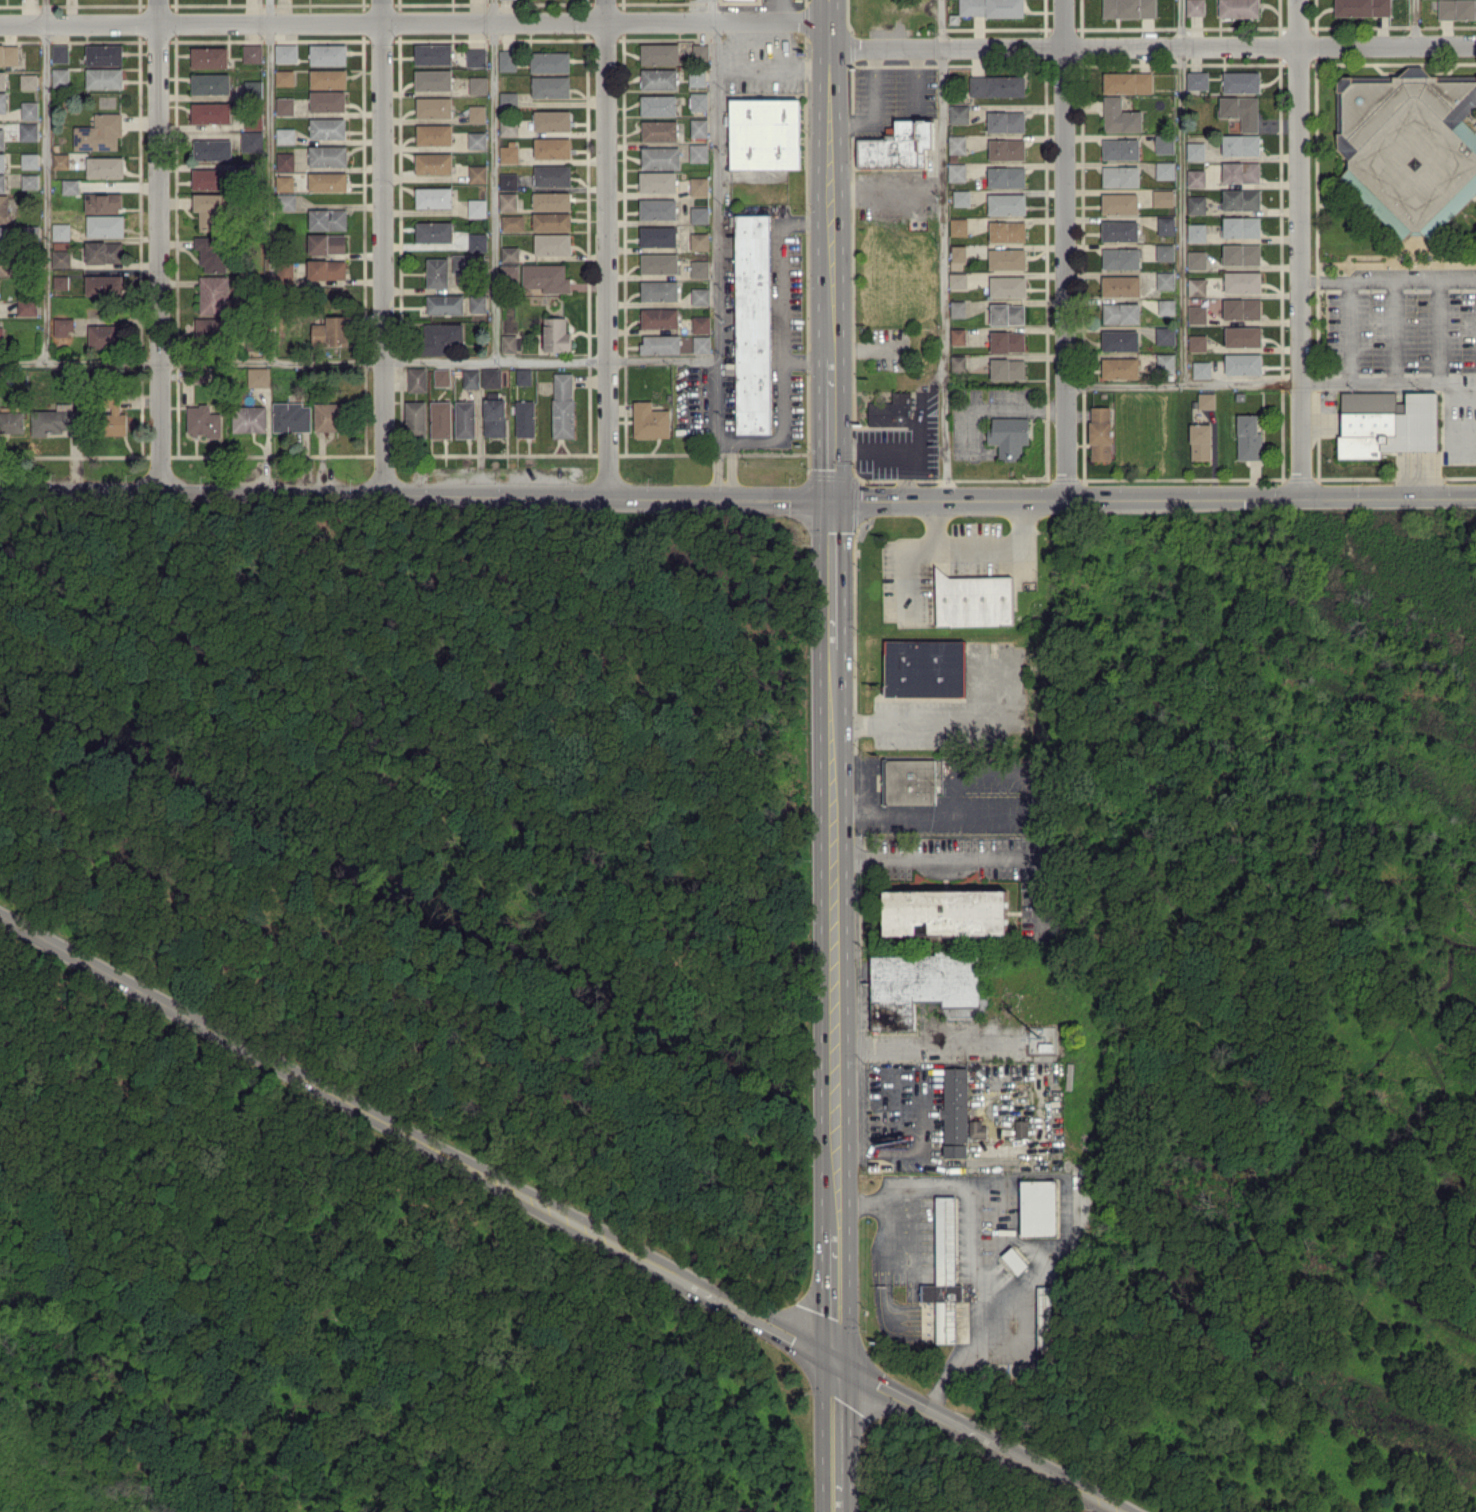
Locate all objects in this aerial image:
road: (782, 1)
building: (991, 7)
building: (1195, 7)
building: (1362, 7)
building: (1128, 8)
building: (1238, 8)
building: (1457, 9)
road: (828, 10)
road: (414, 22)
road: (1416, 24)
road: (829, 35)
road: (1152, 49)
building: (700, 51)
building: (60, 52)
building: (251, 52)
building: (285, 53)
building: (659, 53)
building: (9, 54)
building: (104, 54)
building: (327, 54)
building: (432, 54)
building: (209, 57)
building: (476, 57)
road: (829, 59)
building: (506, 60)
building: (549, 61)
road: (777, 68)
building: (60, 76)
building: (104, 77)
building: (284, 77)
building: (328, 78)
building: (658, 78)
building: (696, 78)
building: (2, 79)
building: (433, 79)
building: (1197, 80)
building: (28, 81)
road: (914, 81)
building: (1241, 81)
building: (1127, 82)
building: (210, 83)
building: (477, 85)
building: (996, 85)
building: (550, 86)
building: (252, 87)
road: (829, 96)
building: (508, 99)
building: (327, 100)
building: (3, 101)
building: (698, 101)
building: (285, 105)
building: (658, 105)
building: (433, 107)
road: (875, 109)
building: (29, 110)
building: (1240, 110)
building: (211, 112)
building: (476, 112)
building: (958, 113)
building: (1119, 116)
building: (552, 119)
building: (1005, 121)
building: (508, 127)
building: (698, 127)
building: (327, 128)
building: (659, 130)
building: (28, 131)
building: (99, 132)
building: (764, 133)
building: (434, 134)
building: (285, 135)
building: (2, 138)
building: (476, 140)
building: (252, 141)
building: (1164, 142)
building: (956, 144)
building: (1240, 144)
building: (1408, 144)
building: (898, 145)
building: (552, 147)
building: (1006, 148)
building: (1120, 148)
building: (212, 149)
building: (1195, 150)
building: (509, 152)
building: (698, 152)
building: (327, 155)
building: (660, 157)
building: (29, 160)
building: (60, 160)
building: (285, 160)
building: (2, 162)
building: (433, 163)
building: (105, 166)
building: (1164, 169)
building: (956, 171)
building: (1240, 171)
building: (477, 173)
building: (552, 175)
building: (1120, 175)
building: (1005, 176)
building: (1195, 177)
building: (210, 178)
road: (270, 180)
building: (508, 180)
building: (30, 181)
road: (46, 181)
building: (327, 181)
building: (657, 181)
building: (2, 182)
building: (284, 182)
road: (494, 182)
building: (70, 186)
building: (698, 186)
road: (881, 190)
road: (1182, 193)
building: (433, 197)
building: (961, 197)
building: (1162, 197)
building: (1241, 199)
building: (551, 200)
building: (287, 201)
building: (507, 201)
building: (103, 202)
building: (1006, 203)
building: (1119, 203)
building: (1196, 204)
building: (4, 208)
building: (476, 208)
building: (657, 208)
building: (209, 210)
building: (699, 214)
building: (327, 219)
building: (551, 221)
building: (512, 222)
building: (105, 225)
building: (1165, 225)
building: (957, 226)
building: (1241, 226)
building: (1119, 230)
building: (61, 231)
building: (433, 231)
building: (1006, 231)
building: (1196, 232)
building: (657, 235)
road: (830, 238)
building: (3, 239)
building: (699, 241)
building: (326, 243)
building: (477, 243)
building: (552, 244)
road: (158, 245)
road: (381, 246)
road: (607, 249)
road: (1297, 249)
road: (718, 250)
road: (945, 250)
building: (104, 251)
road: (1063, 251)
building: (212, 252)
building: (958, 252)
building: (1164, 252)
building: (509, 253)
building: (1241, 253)
building: (1120, 257)
building: (60, 258)
building: (1006, 258)
building: (1196, 259)
building: (460, 262)
building: (658, 263)
building: (6, 264)
building: (699, 268)
building: (326, 269)
building: (284, 271)
building: (437, 272)
building: (509, 272)
building: (546, 277)
road: (1387, 278)
building: (1165, 279)
building: (957, 280)
building: (60, 281)
building: (1242, 281)
building: (104, 284)
building: (1120, 285)
building: (1007, 286)
building: (1196, 286)
building: (659, 290)
building: (214, 294)
building: (700, 296)
building: (477, 302)
road: (776, 302)
building: (444, 304)
building: (27, 305)
building: (1166, 306)
building: (957, 308)
building: (1241, 308)
building: (1120, 312)
building: (1006, 313)
building: (1196, 313)
building: (659, 317)
building: (700, 323)
building: (752, 323)
parking lot: (1412, 324)
building: (62, 326)
building: (210, 327)
building: (332, 331)
road: (1393, 331)
road: (1437, 331)
road: (1347, 332)
building: (556, 334)
building: (105, 335)
building: (1164, 335)
building: (1243, 335)
building: (440, 336)
building: (957, 336)
building: (1, 340)
building: (1120, 340)
building: (1007, 341)
building: (1197, 342)
building: (508, 343)
building: (701, 343)
building: (660, 344)
road: (872, 347)
road: (804, 360)
road: (304, 363)
building: (957, 363)
building: (1165, 363)
building: (1242, 363)
road: (680, 365)
building: (1119, 367)
building: (1007, 368)
building: (1201, 369)
building: (258, 376)
building: (442, 376)
building: (523, 376)
building: (491, 377)
building: (470, 378)
building: (417, 379)
road: (1367, 385)
road: (1180, 387)
road: (1454, 393)
building: (1206, 400)
building: (563, 405)
road: (984, 405)
building: (883, 408)
building: (291, 416)
building: (329, 416)
building: (495, 417)
building: (249, 418)
building: (415, 418)
building: (525, 418)
building: (115, 419)
building: (441, 419)
building: (465, 420)
building: (650, 420)
building: (12, 421)
building: (54, 421)
building: (203, 421)
building: (1385, 424)
road: (832, 428)
building: (1100, 433)
building: (1008, 436)
building: (1248, 437)
road: (1462, 440)
road: (749, 441)
building: (1200, 441)
road: (905, 452)
road: (903, 477)
road: (417, 493)
road: (1154, 501)
traffic signals: (834, 503)
road: (996, 545)
road: (905, 553)
road: (834, 573)
building: (974, 599)
building: (924, 668)
road: (944, 723)
building: (909, 781)
road: (995, 816)
road: (975, 857)
building: (945, 911)
road: (835, 938)
road: (926, 1041)
building: (954, 1111)
building: (1020, 1127)
building: (976, 1128)
road: (1016, 1176)
building: (1037, 1207)
road: (559, 1214)
road: (968, 1249)
road: (1058, 1249)
building: (946, 1278)
road: (882, 1281)
road: (836, 1299)
road: (816, 1312)
road: (945, 1316)
road: (972, 1316)
road: (220, 1318)
building: (1044, 1319)
traffic signals: (837, 1364)
road: (860, 1414)
road: (837, 1426)
road: (146, 1457)
road: (864, 1481)
road: (838, 1500)

